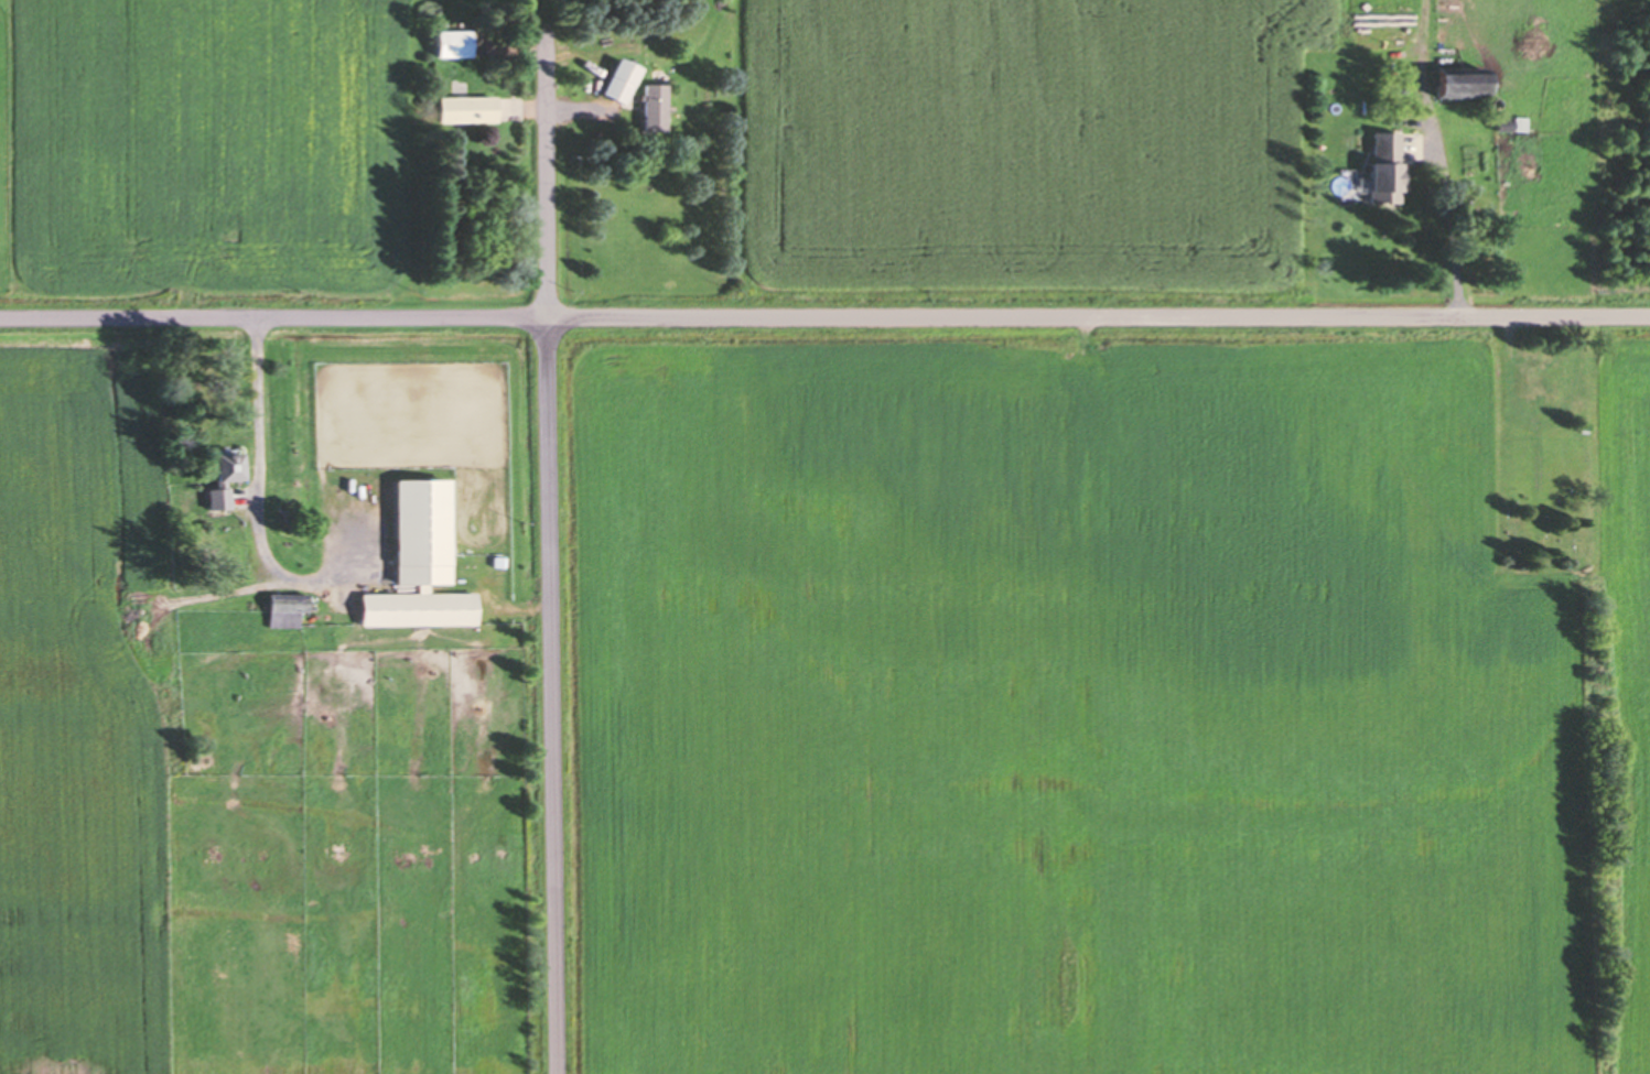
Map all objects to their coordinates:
building: (449, 42)
building: (617, 80)
building: (1454, 83)
building: (651, 107)
building: (463, 108)
building: (1383, 167)
road: (824, 317)
building: (219, 473)
road: (260, 492)
building: (418, 529)
road: (549, 536)
building: (282, 608)
building: (414, 608)

